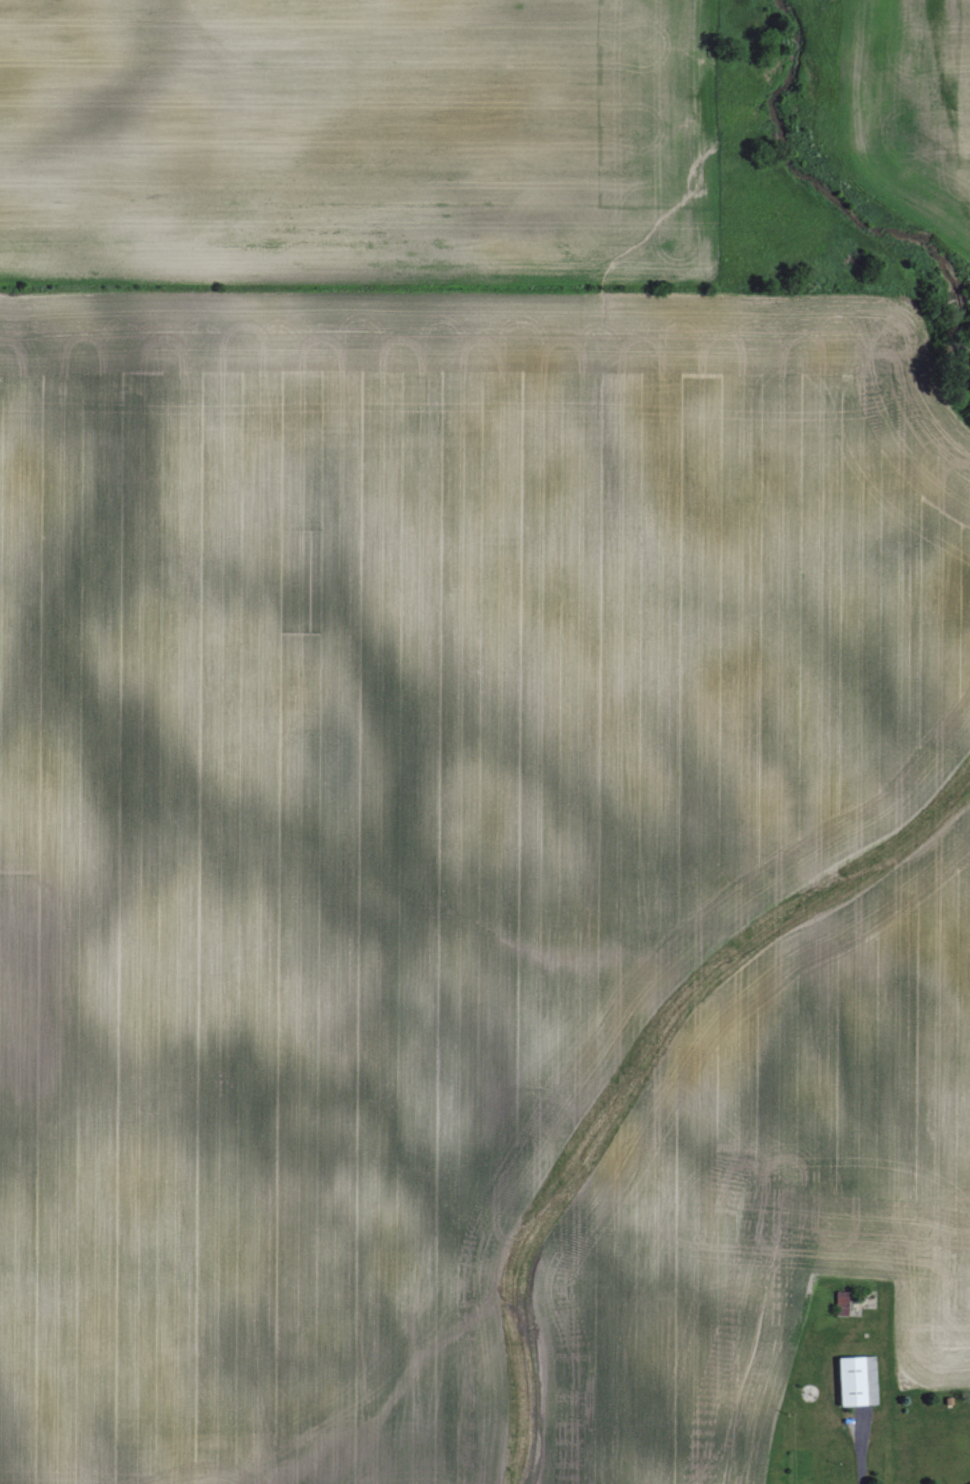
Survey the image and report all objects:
building: (857, 1381)
road: (863, 1462)

